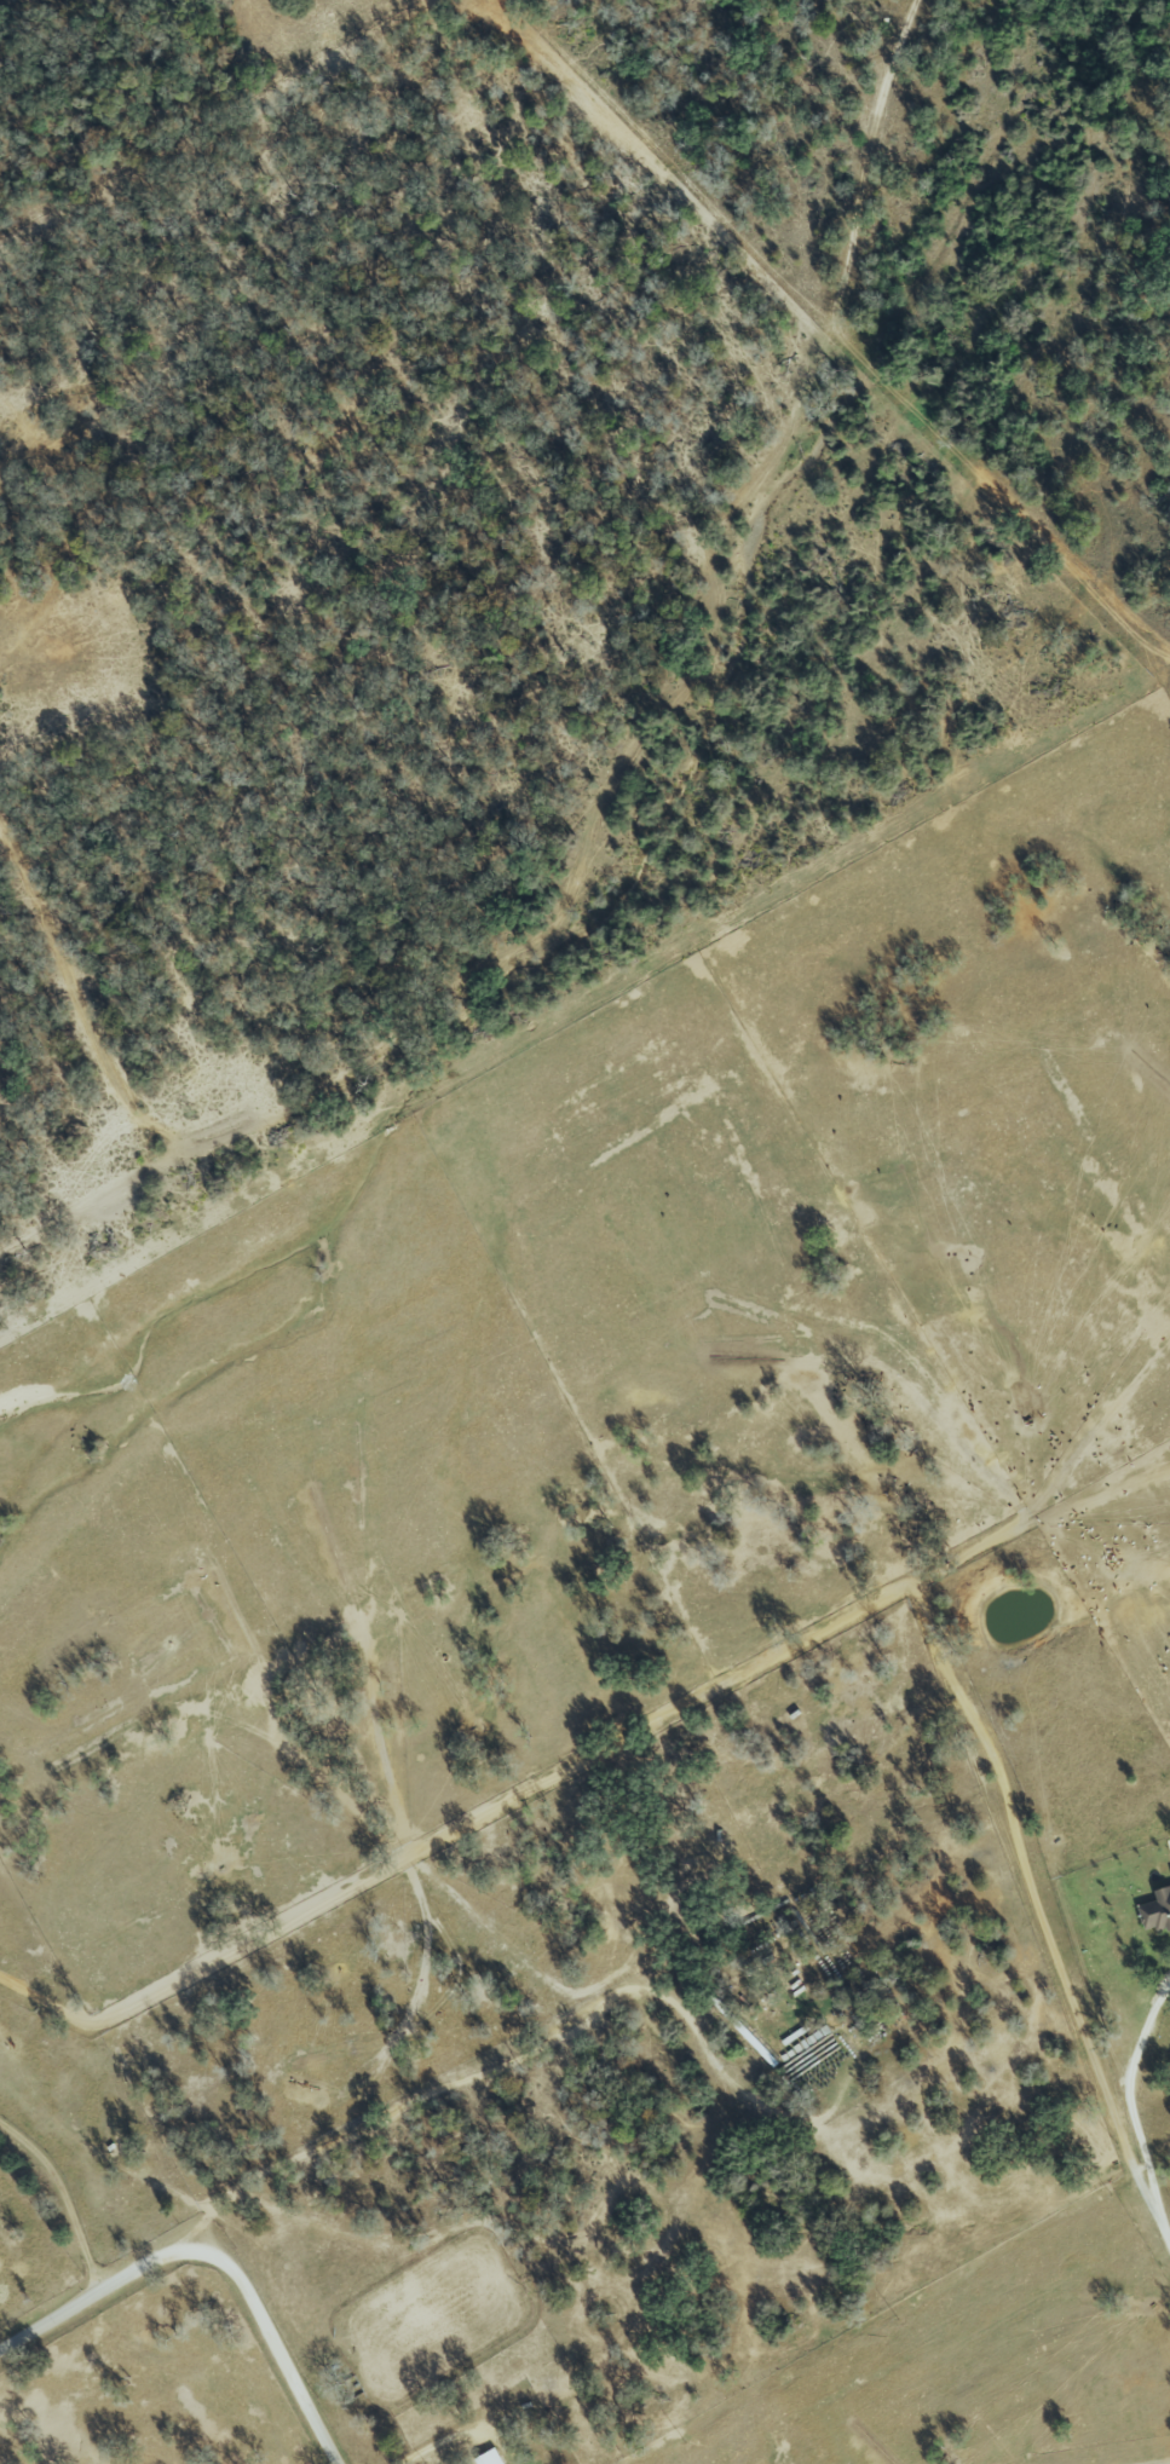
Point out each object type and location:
building: (1168, 1843)
building: (1169, 1872)
building: (1154, 1911)
road: (559, 2036)
road: (1131, 2108)
road: (64, 2197)
road: (220, 2251)
road: (443, 2441)
building: (486, 2458)

